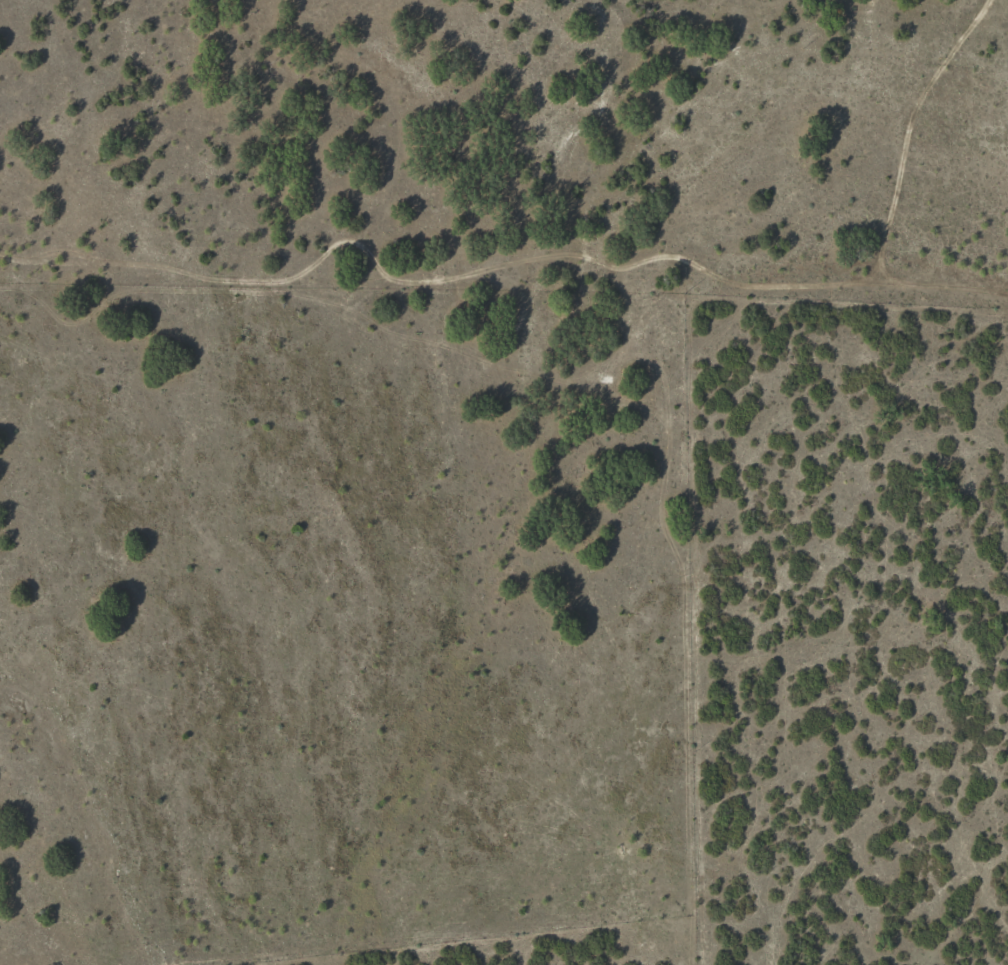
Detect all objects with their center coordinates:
road: (351, 133)
road: (293, 271)
road: (611, 441)

